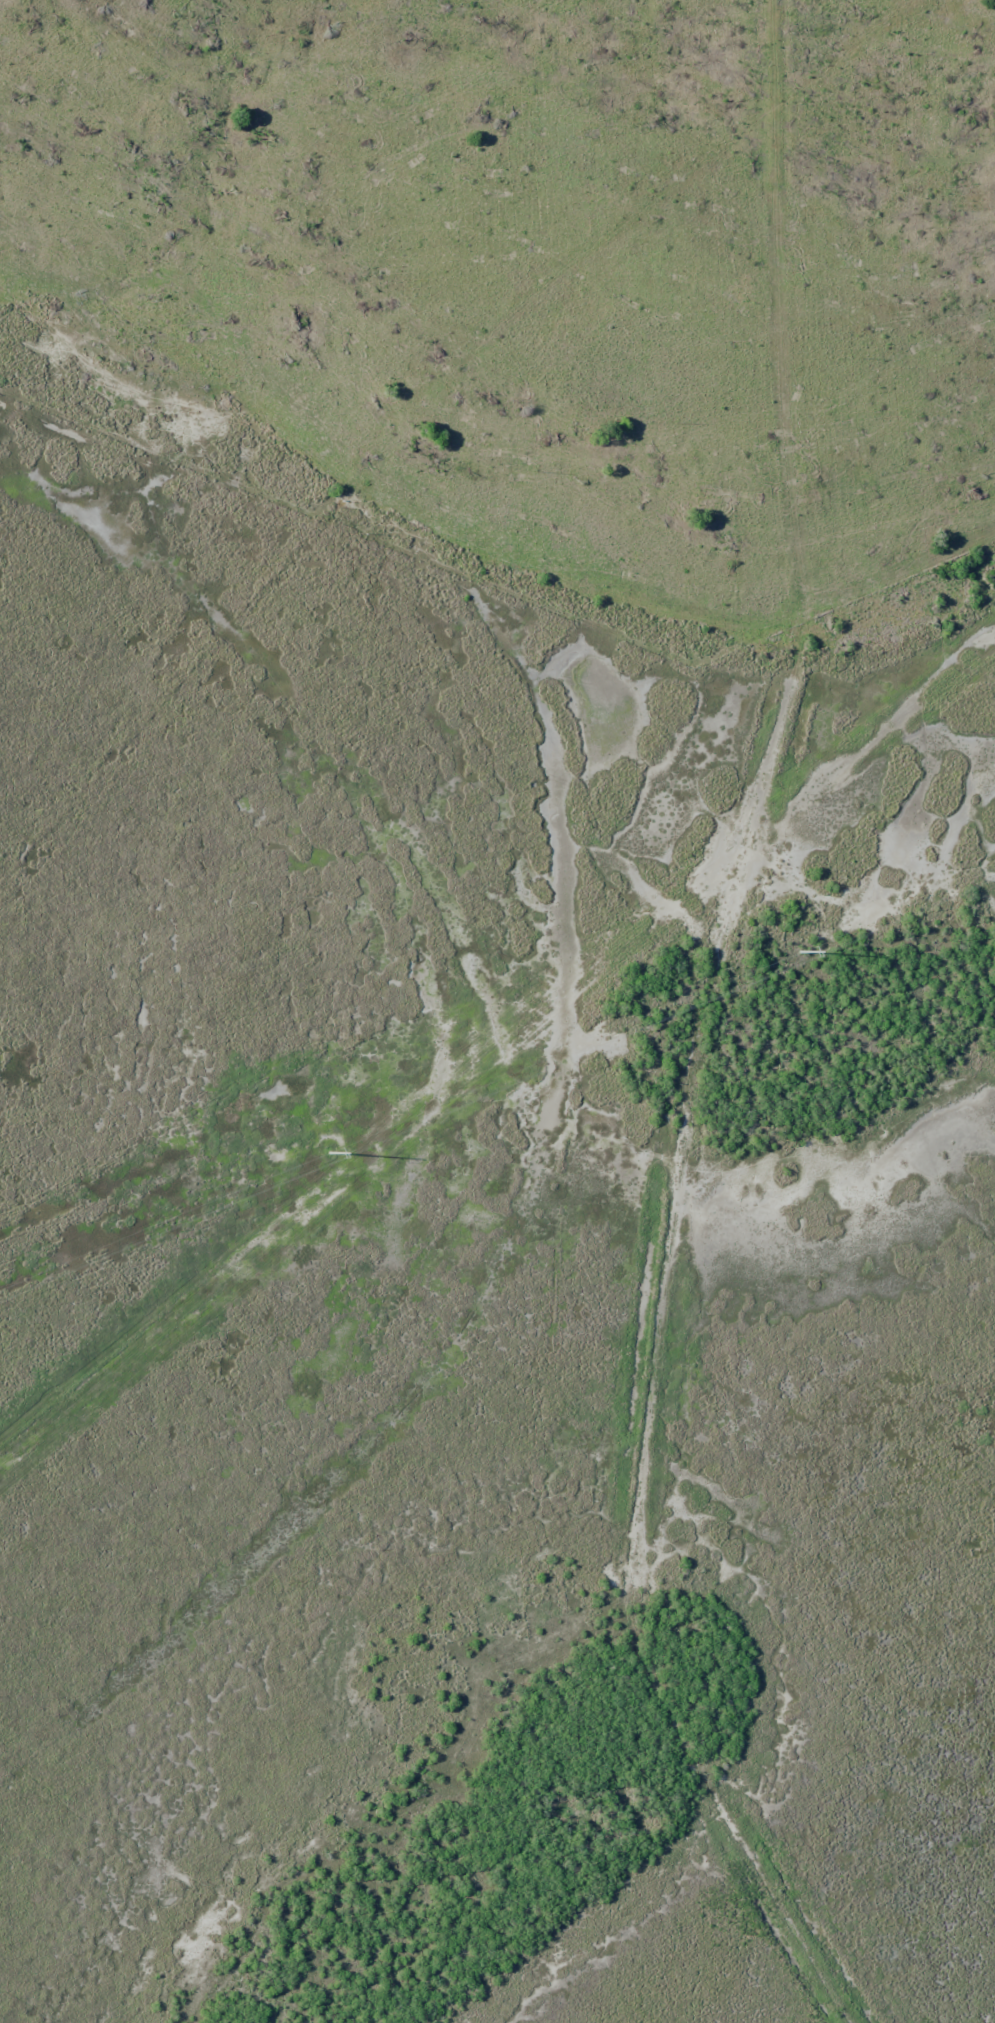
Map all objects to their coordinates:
power tower: (798, 951)
power tower: (327, 1151)

